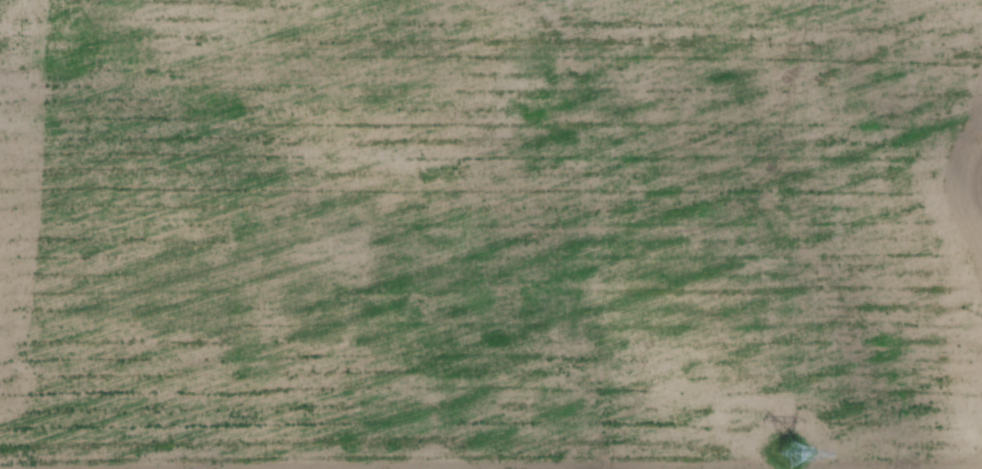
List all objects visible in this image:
power tower: (787, 450)

